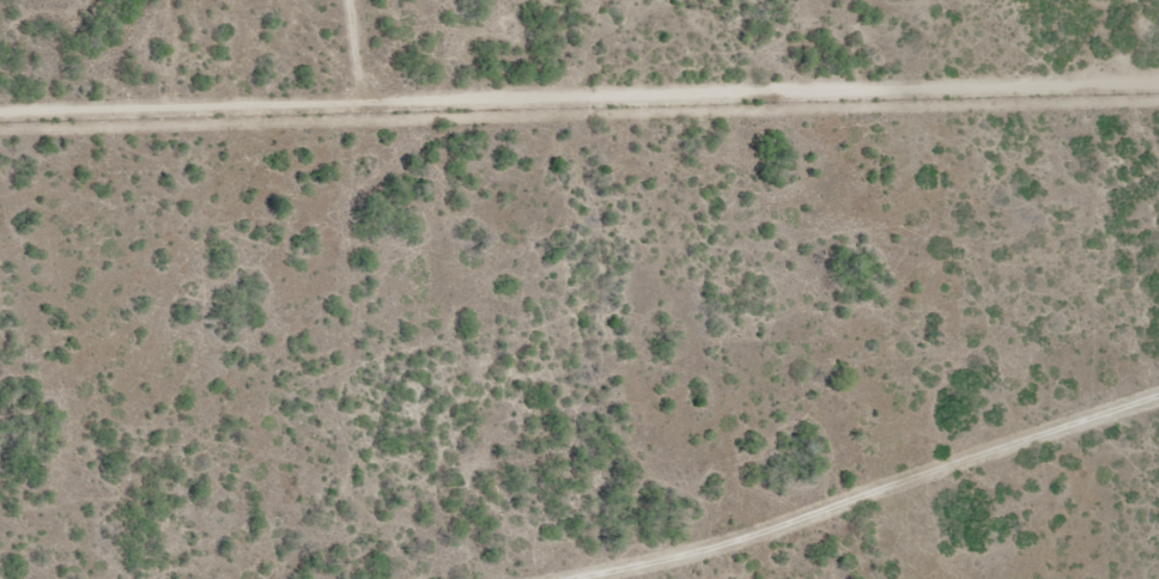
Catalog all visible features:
road: (874, 504)

